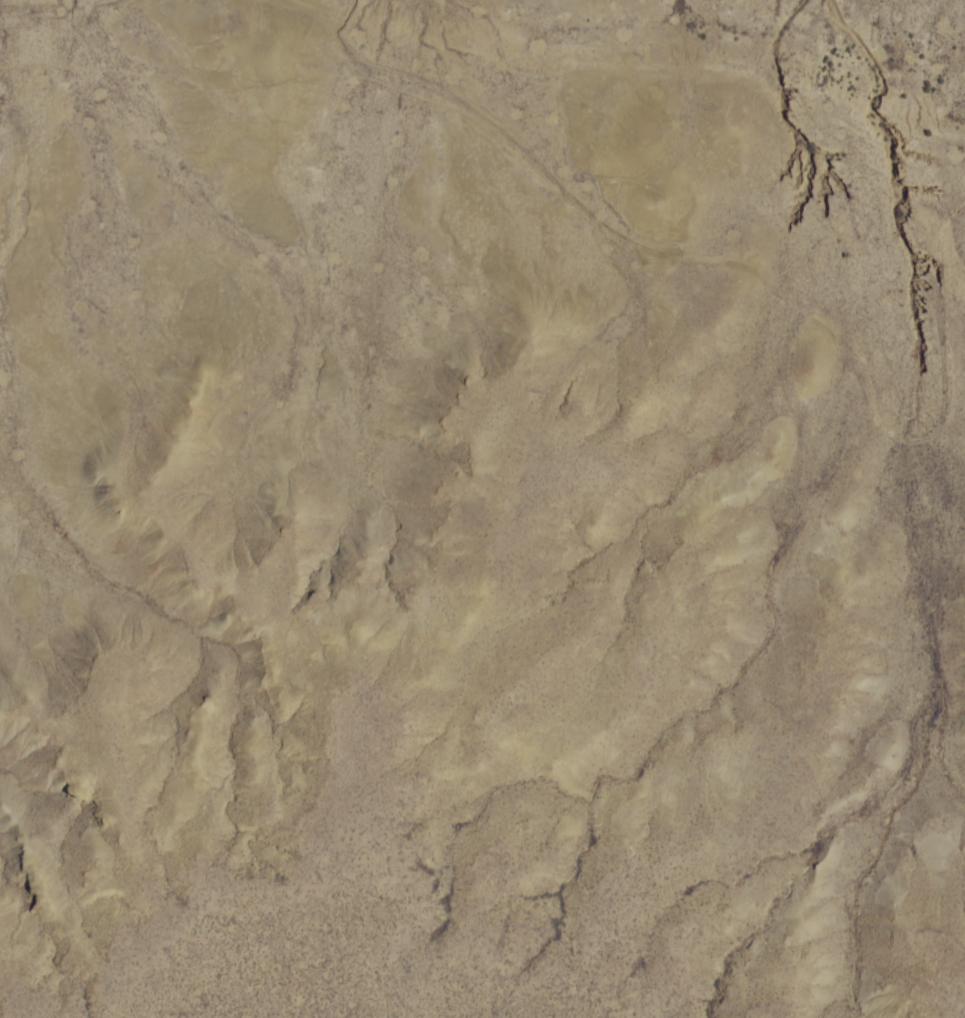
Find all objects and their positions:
road: (789, 112)

